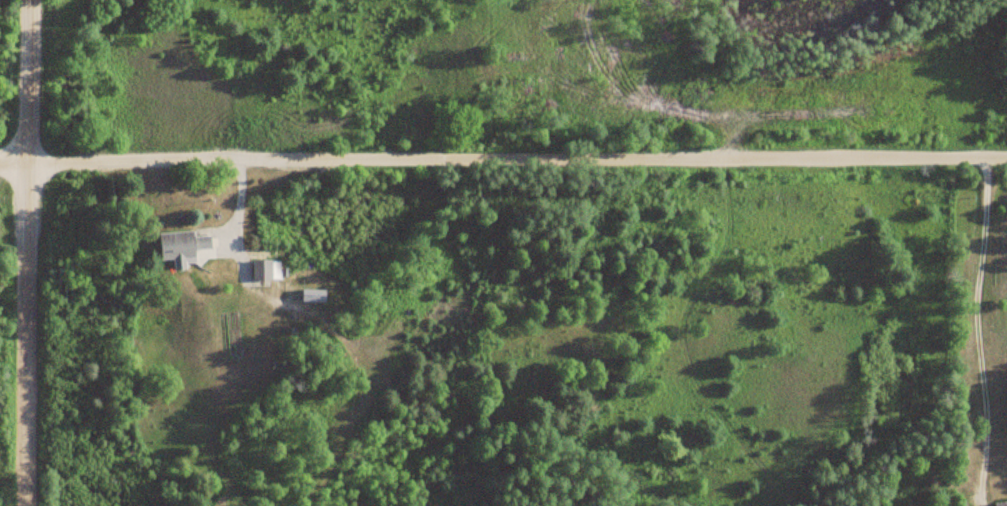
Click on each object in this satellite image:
road: (23, 81)
road: (503, 160)
building: (180, 247)
building: (262, 269)
building: (310, 289)
road: (25, 334)
building: (1000, 504)

